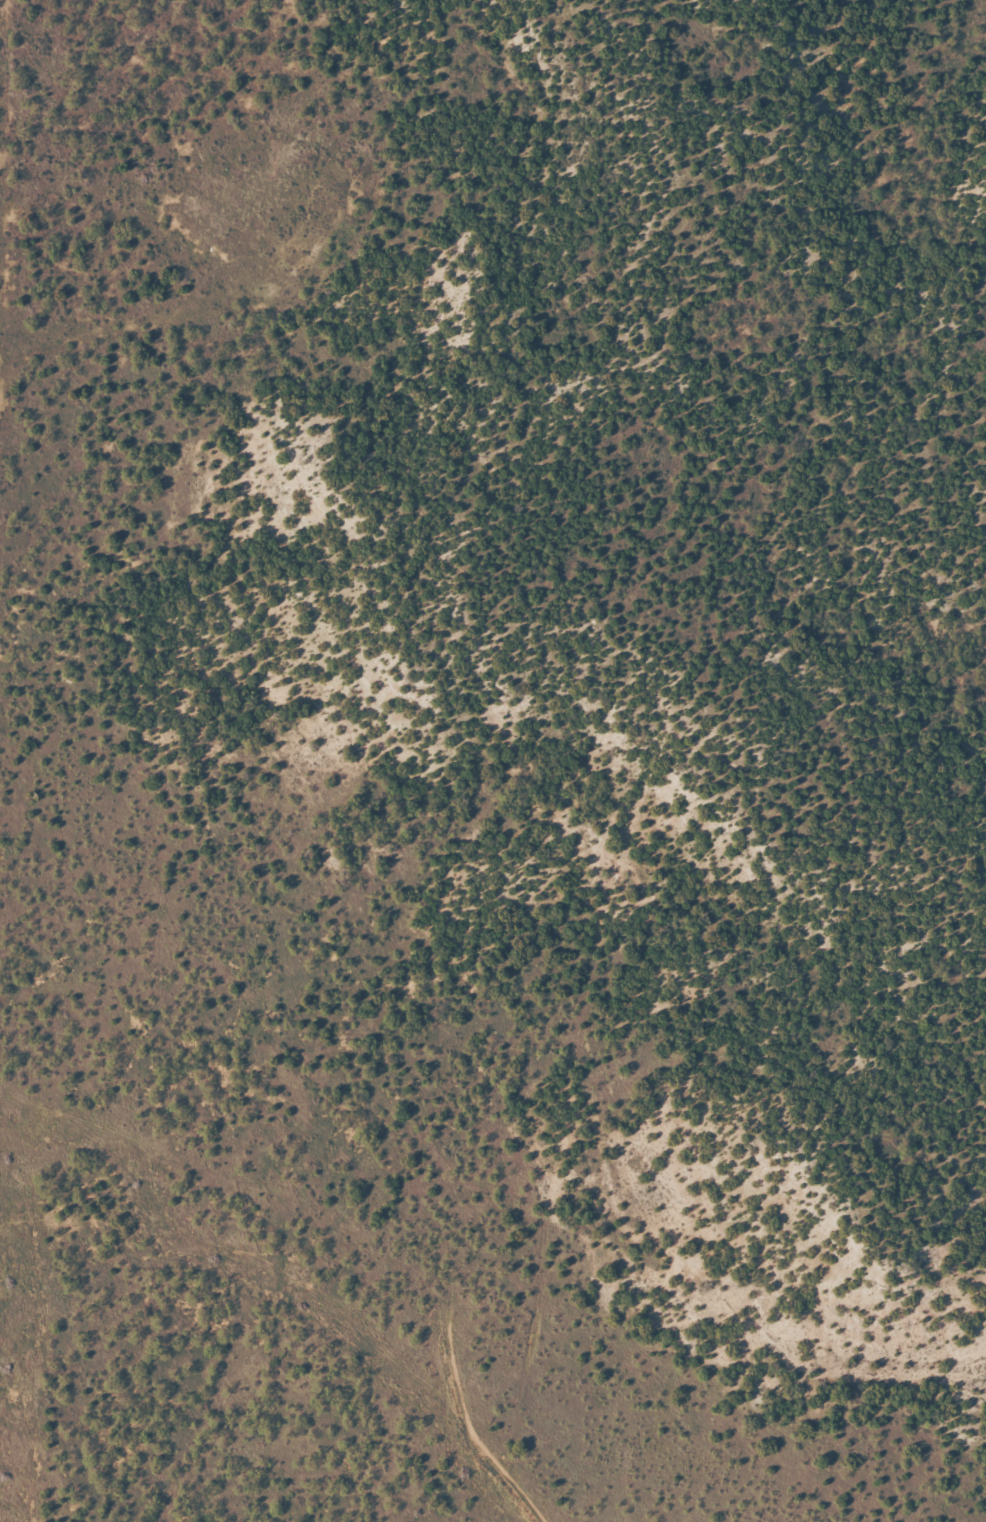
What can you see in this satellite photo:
road: (690, 254)

